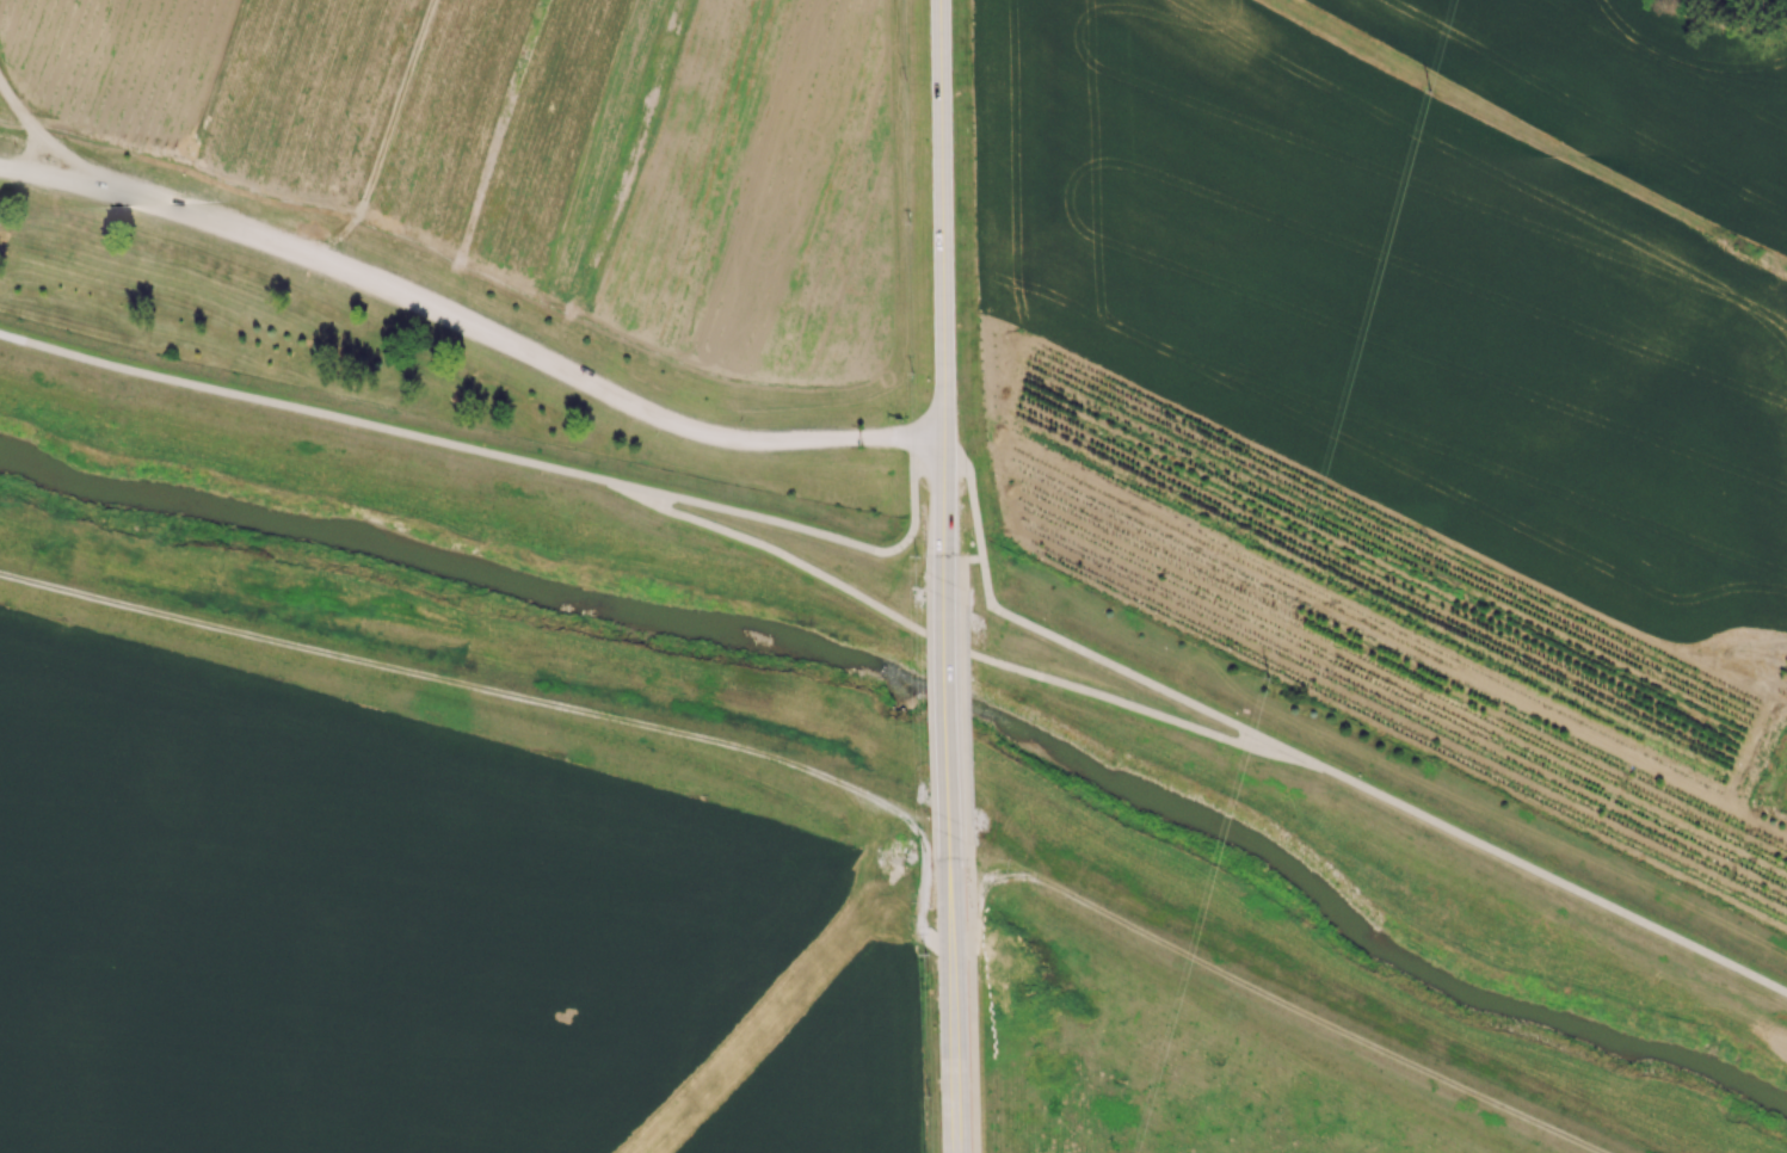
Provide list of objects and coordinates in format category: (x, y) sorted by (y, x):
road: (384, 135)
road: (44, 140)
road: (1530, 141)
crop: (534, 149)
theme park: (491, 214)
road: (941, 273)
parking lot: (392, 314)
road: (470, 322)
road: (306, 412)
road: (972, 499)
road: (815, 534)
road: (965, 567)
road: (948, 645)
road: (1123, 673)
road: (466, 685)
river: (929, 689)
road: (947, 693)
road: (967, 717)
road: (1545, 874)
road: (942, 945)
road: (783, 994)
road: (951, 994)
road: (973, 998)
road: (1299, 1010)

